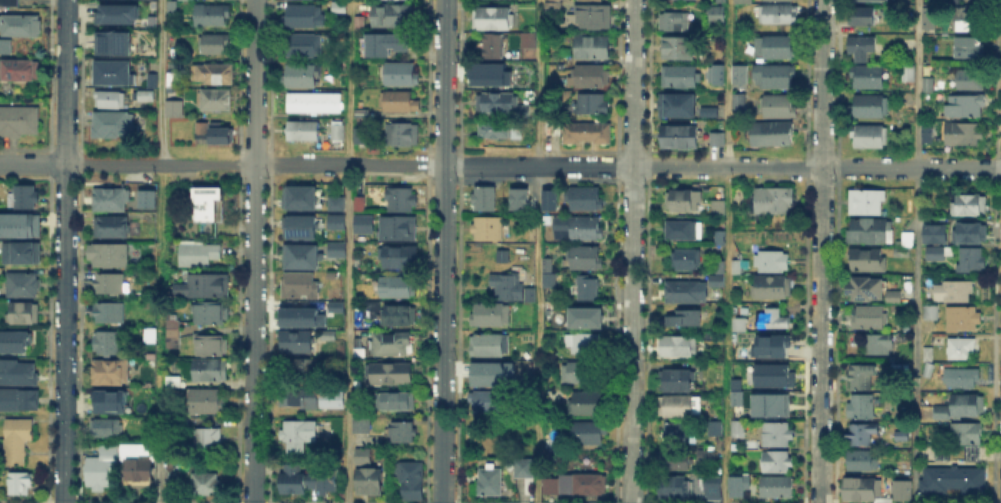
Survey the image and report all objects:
building: (553, 0)
building: (881, 0)
building: (591, 1)
building: (740, 1)
building: (943, 1)
building: (8, 3)
building: (173, 9)
building: (339, 10)
building: (553, 11)
building: (714, 12)
building: (118, 14)
building: (214, 15)
building: (304, 16)
building: (593, 16)
building: (779, 16)
building: (392, 17)
building: (865, 17)
building: (494, 18)
building: (971, 19)
building: (671, 20)
building: (18, 23)
building: (925, 23)
building: (360, 24)
building: (530, 41)
building: (116, 43)
building: (303, 43)
building: (4, 44)
building: (676, 45)
building: (215, 46)
building: (385, 47)
building: (495, 47)
building: (861, 47)
building: (593, 48)
building: (775, 48)
building: (970, 48)
building: (906, 68)
building: (24, 73)
building: (489, 73)
building: (737, 73)
building: (114, 74)
building: (213, 74)
building: (300, 75)
building: (402, 75)
building: (591, 77)
building: (680, 77)
building: (775, 77)
building: (868, 77)
building: (973, 78)
building: (717, 80)
building: (173, 81)
building: (154, 82)
building: (925, 82)
building: (147, 97)
building: (109, 99)
building: (736, 99)
building: (937, 100)
building: (217, 101)
building: (399, 103)
building: (315, 104)
building: (497, 104)
building: (678, 105)
building: (593, 106)
building: (870, 106)
building: (966, 106)
building: (779, 107)
building: (175, 110)
building: (709, 112)
building: (922, 112)
building: (362, 113)
building: (18, 118)
building: (116, 125)
building: (497, 129)
building: (584, 131)
road: (162, 132)
building: (306, 132)
building: (338, 133)
building: (213, 134)
building: (776, 135)
building: (403, 136)
building: (963, 136)
building: (361, 137)
building: (680, 137)
building: (714, 137)
building: (869, 138)
road: (32, 164)
road: (253, 165)
road: (491, 165)
road: (633, 166)
road: (863, 167)
building: (24, 198)
building: (300, 198)
building: (110, 199)
building: (484, 199)
building: (518, 199)
building: (548, 199)
building: (584, 199)
building: (401, 200)
building: (683, 201)
building: (868, 201)
building: (143, 202)
building: (772, 202)
building: (336, 203)
building: (973, 204)
building: (360, 205)
building: (716, 205)
building: (210, 213)
building: (18, 223)
building: (337, 224)
building: (364, 225)
building: (580, 226)
building: (111, 228)
building: (400, 228)
building: (302, 229)
building: (489, 230)
building: (684, 231)
building: (872, 231)
building: (935, 233)
building: (972, 233)
building: (718, 235)
building: (793, 237)
building: (905, 246)
road: (64, 251)
road: (253, 251)
building: (338, 251)
road: (348, 251)
road: (442, 251)
road: (538, 251)
road: (632, 251)
road: (727, 251)
road: (820, 251)
road: (916, 251)
building: (22, 254)
building: (199, 254)
building: (500, 254)
building: (936, 255)
building: (110, 256)
building: (583, 257)
building: (303, 258)
building: (399, 258)
building: (686, 260)
building: (773, 260)
building: (972, 260)
building: (869, 261)
building: (544, 263)
building: (719, 265)
building: (739, 266)
building: (546, 279)
building: (716, 280)
building: (110, 284)
building: (22, 285)
building: (396, 285)
building: (507, 285)
building: (203, 286)
building: (300, 286)
building: (773, 288)
building: (868, 288)
building: (588, 289)
building: (683, 293)
building: (954, 293)
building: (529, 295)
building: (717, 296)
building: (895, 298)
building: (333, 305)
building: (370, 310)
building: (550, 310)
building: (109, 312)
building: (25, 313)
building: (209, 313)
building: (932, 313)
building: (493, 314)
building: (298, 315)
building: (399, 317)
building: (586, 317)
building: (685, 319)
building: (771, 319)
building: (868, 319)
building: (963, 319)
building: (170, 322)
building: (736, 322)
building: (741, 327)
building: (170, 331)
building: (325, 334)
building: (170, 341)
building: (106, 342)
building: (14, 344)
building: (208, 344)
building: (297, 344)
building: (879, 344)
building: (391, 345)
building: (491, 345)
building: (587, 345)
building: (681, 347)
building: (777, 348)
building: (962, 350)
building: (927, 353)
building: (300, 365)
building: (207, 368)
building: (902, 369)
building: (929, 369)
building: (110, 372)
building: (581, 372)
building: (18, 374)
building: (390, 375)
building: (776, 376)
building: (863, 377)
building: (962, 378)
building: (486, 379)
building: (679, 381)
building: (173, 382)
building: (738, 382)
building: (554, 395)
building: (745, 396)
building: (736, 397)
building: (330, 398)
building: (14, 400)
building: (300, 400)
building: (110, 402)
building: (398, 402)
building: (206, 403)
building: (770, 403)
building: (489, 404)
building: (588, 404)
building: (679, 406)
building: (963, 407)
building: (863, 408)
building: (340, 410)
building: (183, 425)
building: (361, 425)
building: (712, 427)
building: (110, 428)
building: (739, 429)
building: (942, 429)
building: (297, 433)
building: (588, 433)
building: (403, 434)
building: (678, 436)
building: (778, 436)
building: (862, 436)
building: (902, 436)
building: (14, 438)
building: (208, 439)
building: (968, 440)
building: (707, 457)
building: (861, 460)
road: (158, 461)
building: (677, 462)
building: (777, 462)
building: (139, 465)
building: (101, 468)
building: (527, 471)
building: (172, 476)
building: (368, 476)
building: (290, 478)
building: (952, 478)
building: (323, 480)
building: (411, 481)
building: (490, 483)
building: (209, 484)
building: (736, 484)
building: (21, 485)
building: (592, 485)
building: (710, 486)
building: (553, 487)
building: (676, 488)
building: (778, 489)
building: (905, 490)
building: (864, 491)

